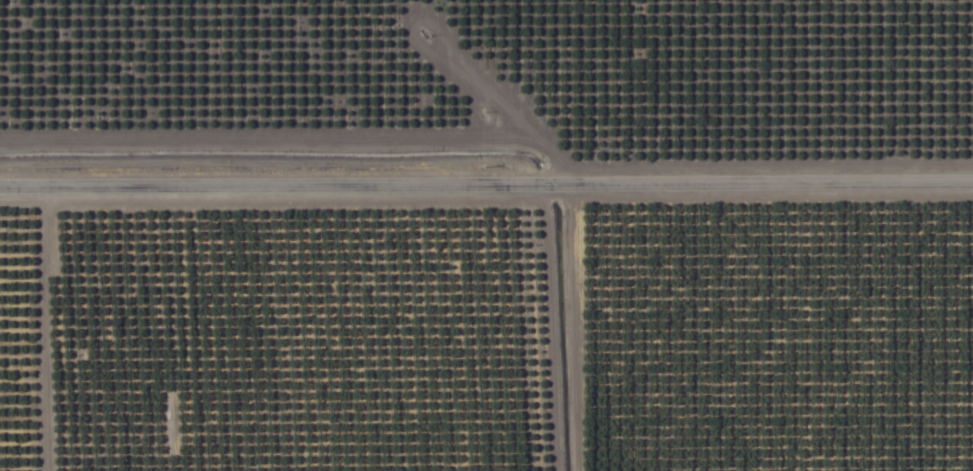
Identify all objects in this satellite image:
building: (144, 137)
road: (486, 174)
crop: (486, 235)

